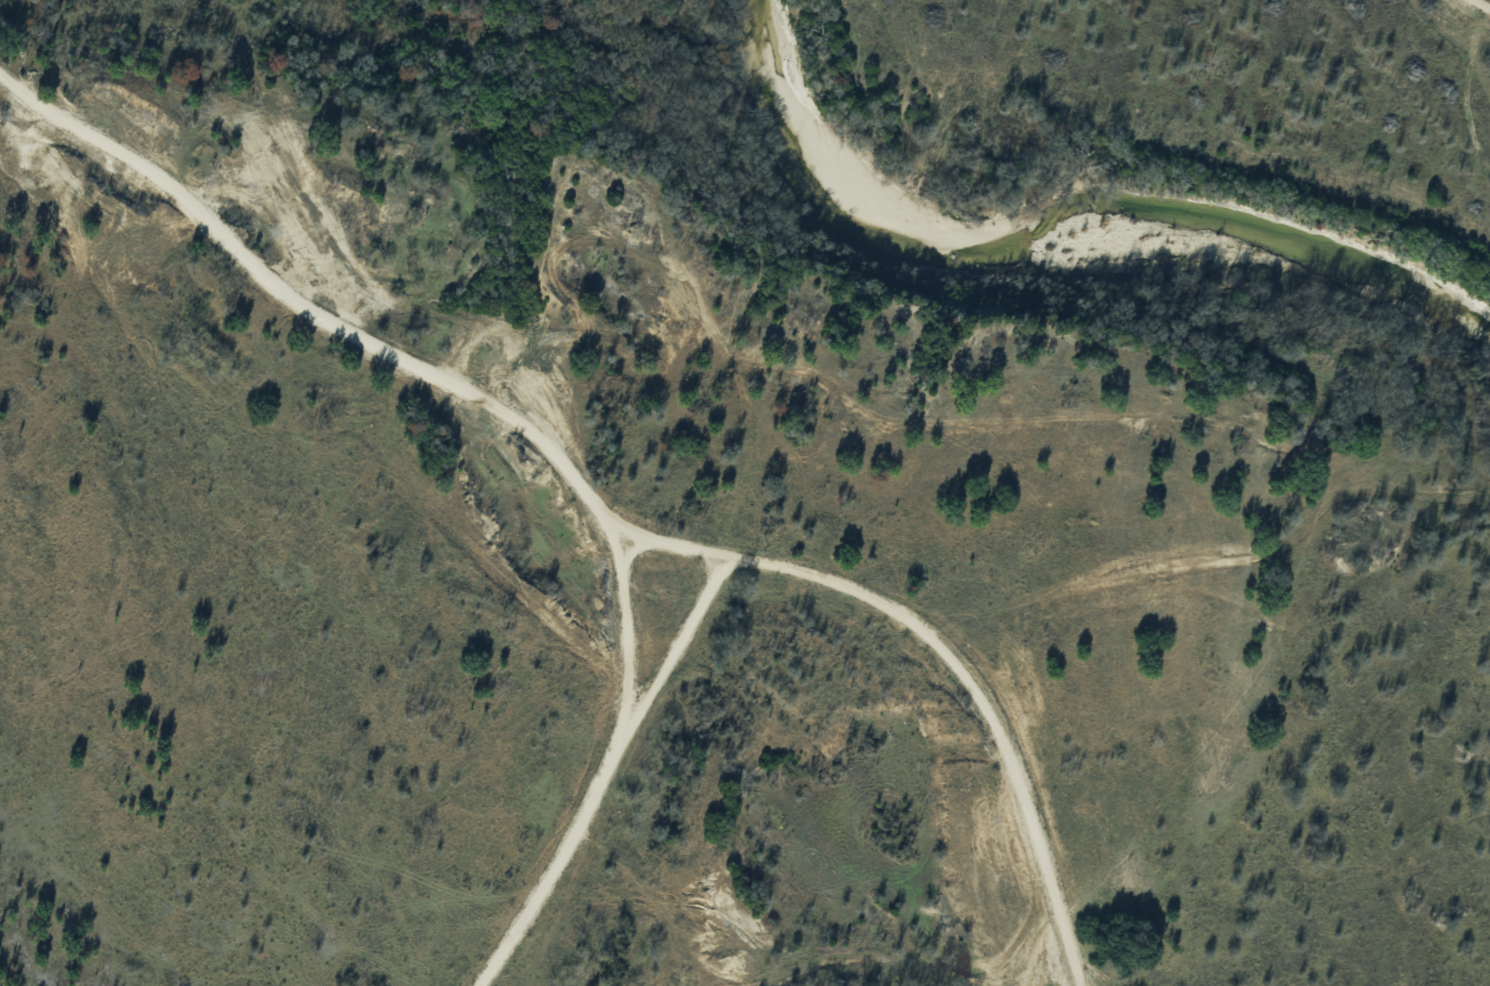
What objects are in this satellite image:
road: (1484, 4)
river: (1055, 240)
road: (306, 310)
road: (628, 631)
road: (678, 644)
road: (954, 650)
road: (559, 863)

